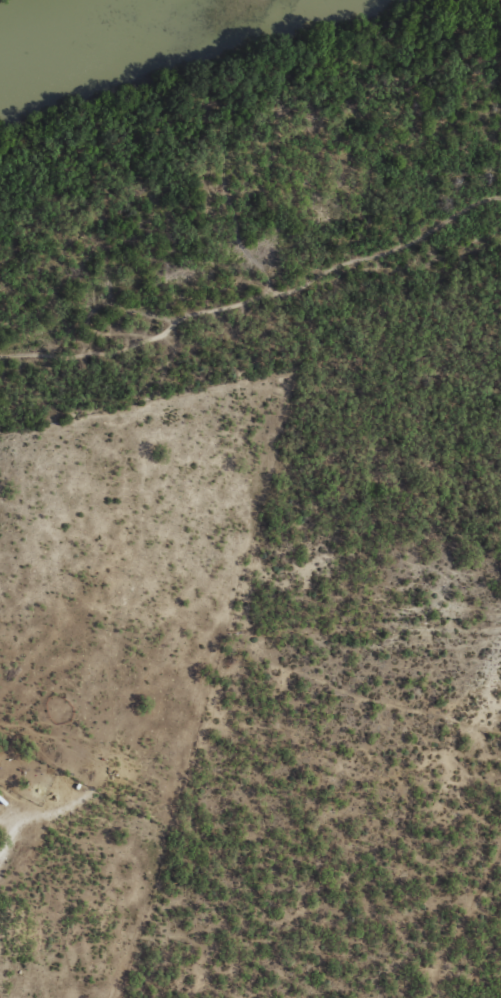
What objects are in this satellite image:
river: (35, 16)

